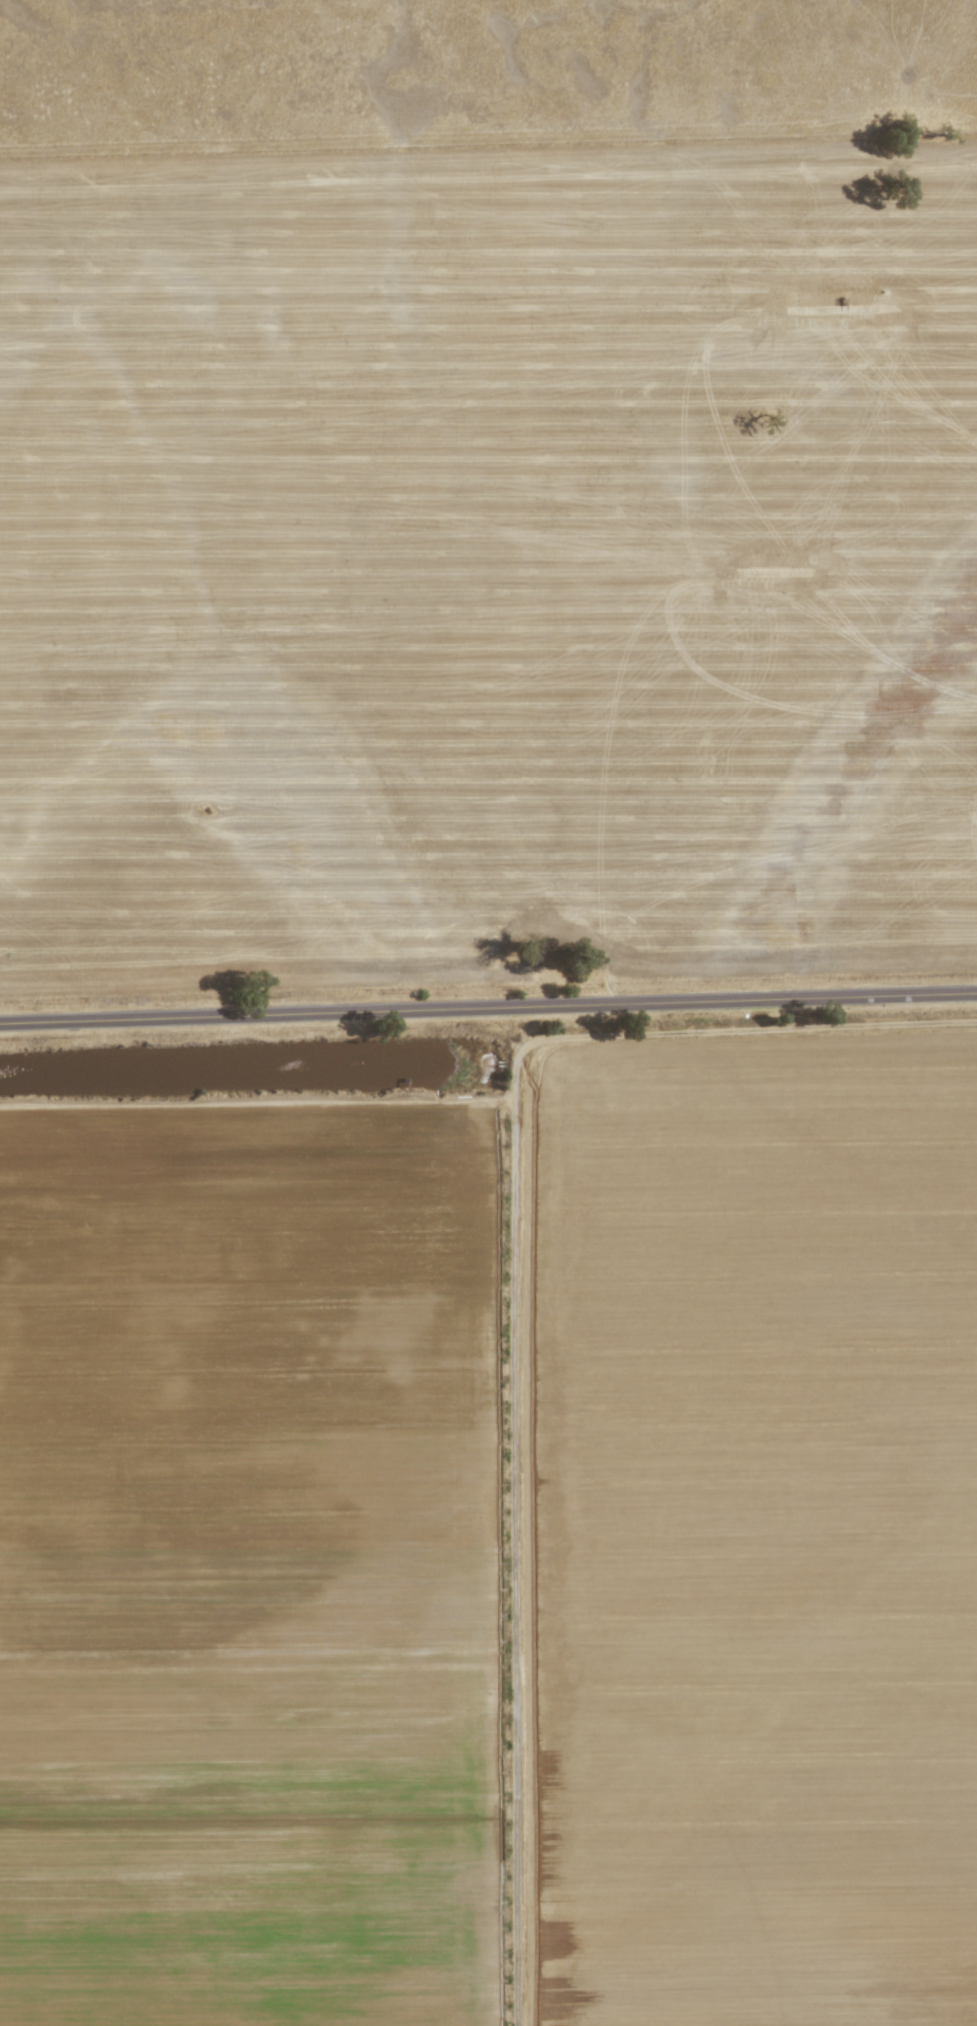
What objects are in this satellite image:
road: (488, 1009)

